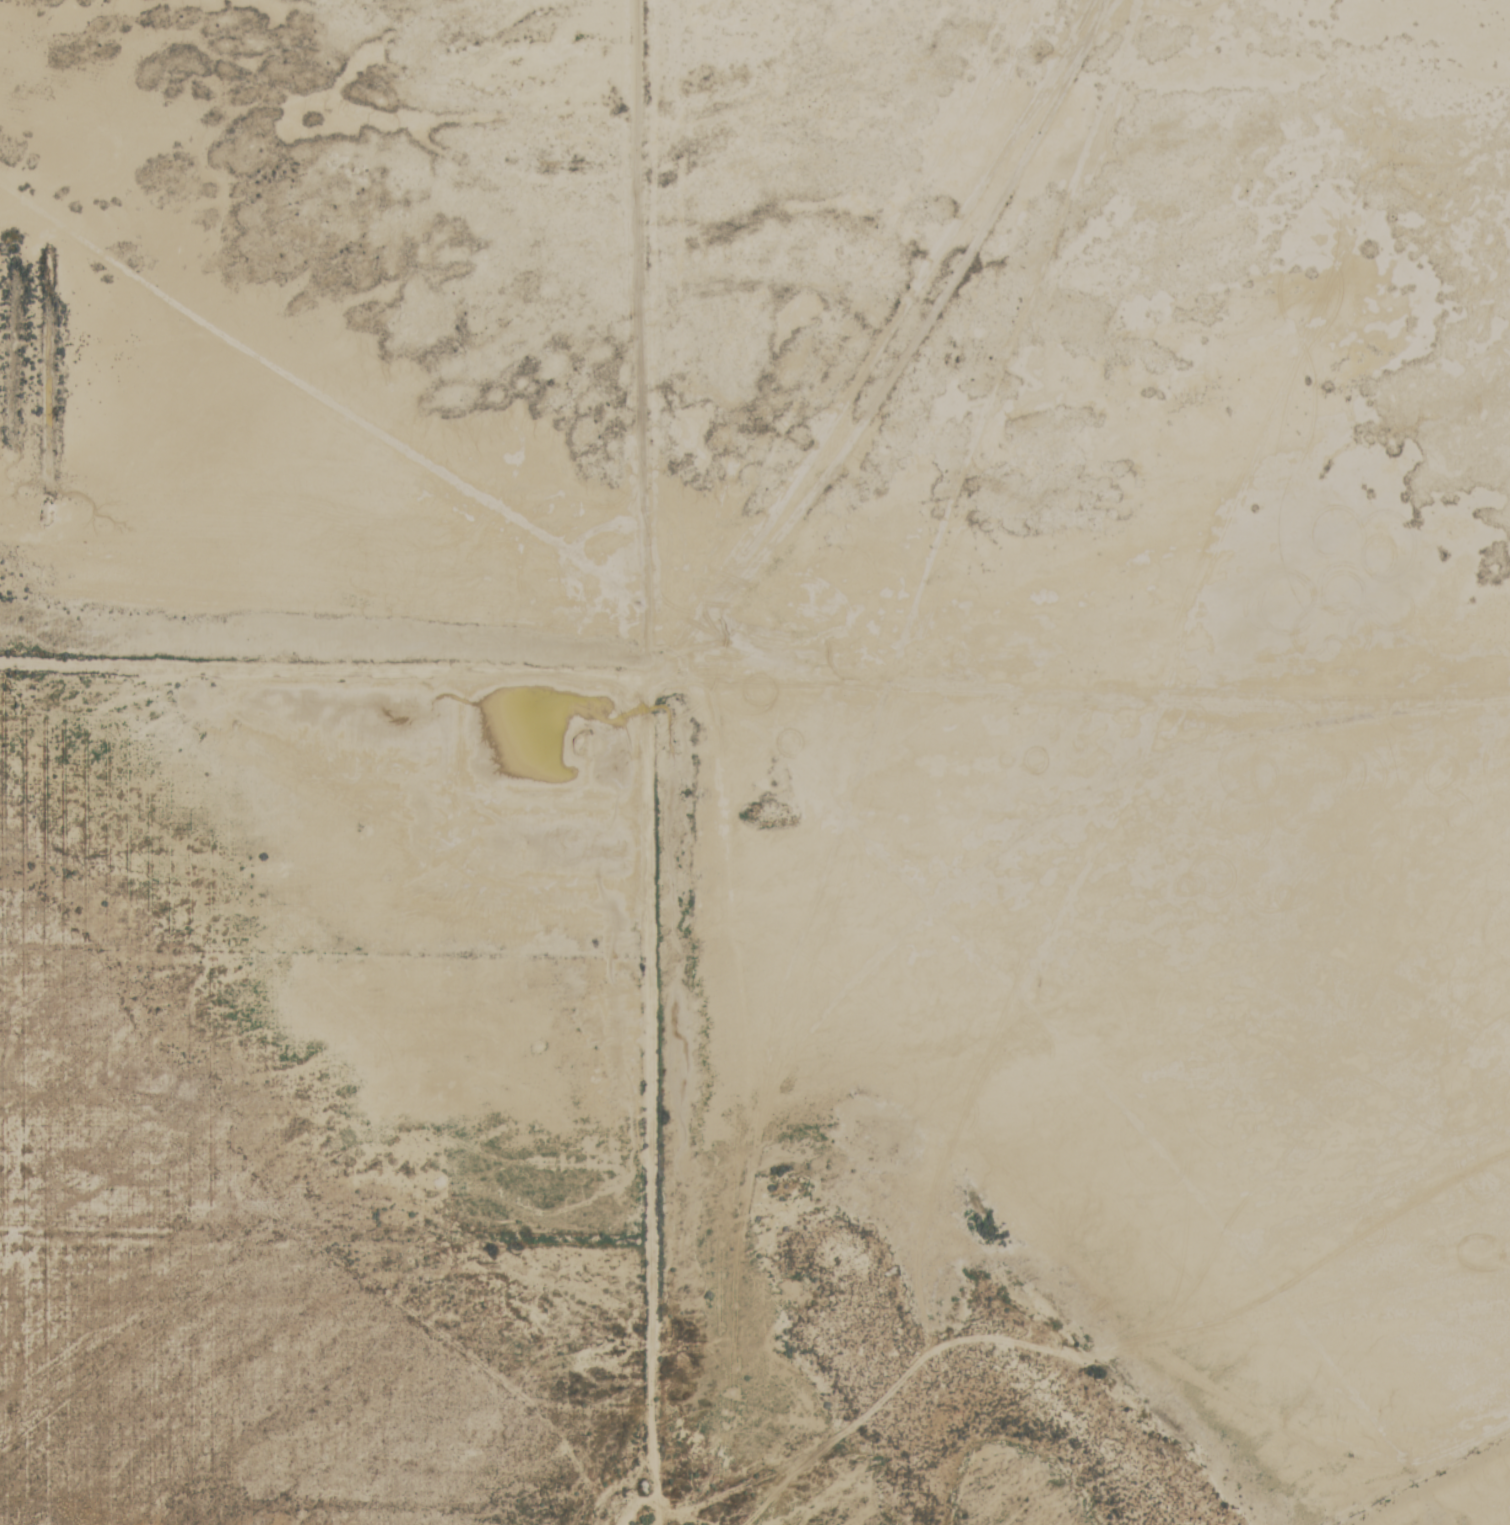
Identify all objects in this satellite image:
road: (632, 339)
road: (882, 348)
road: (317, 413)
road: (317, 671)
road: (639, 1102)
airport runway: (272, 1205)

